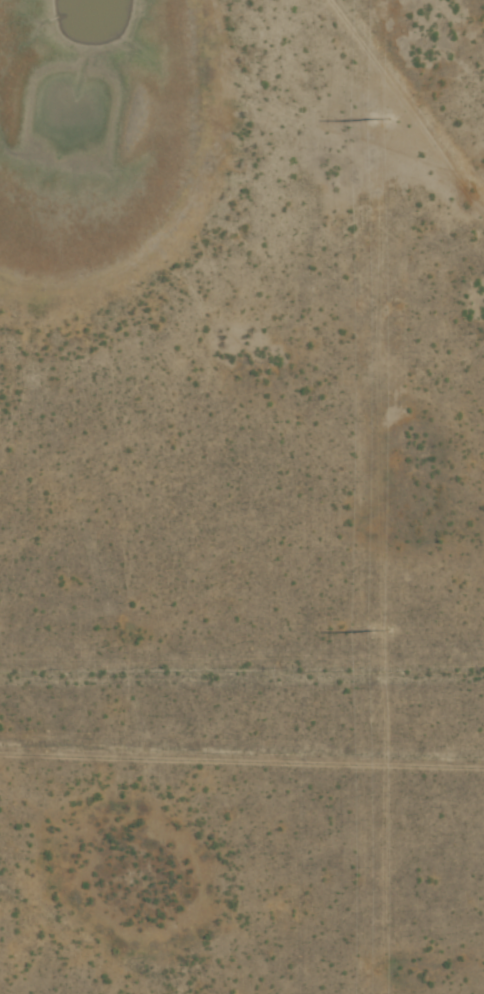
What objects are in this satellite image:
power tower: (381, 118)
power tower: (382, 631)
road: (241, 637)

